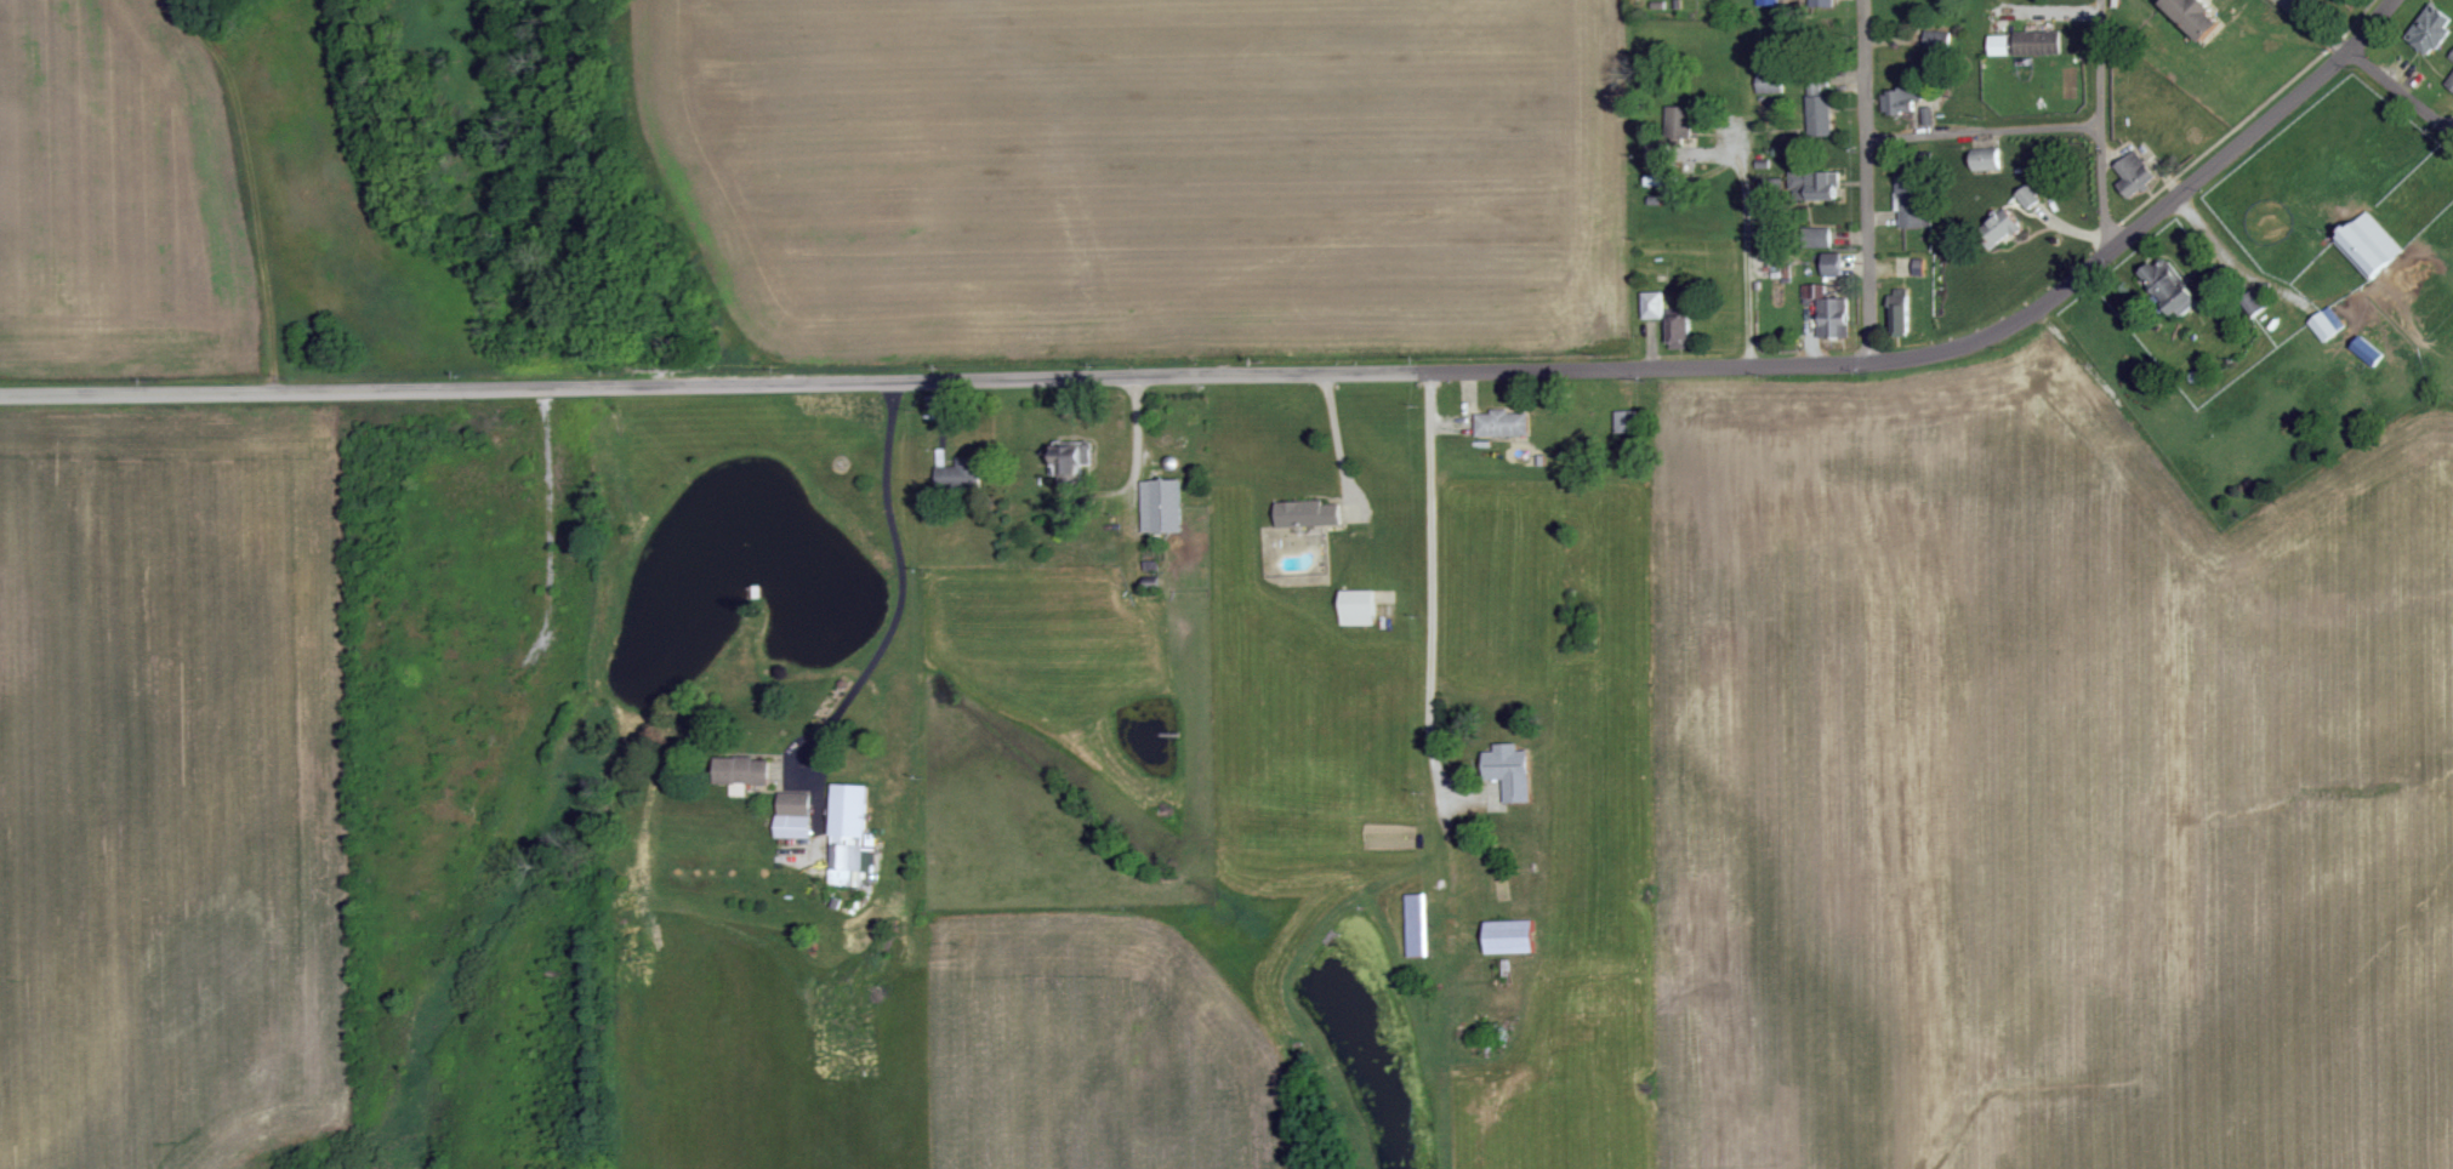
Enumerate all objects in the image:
building: (1769, 2)
building: (1823, 2)
building: (2197, 17)
building: (2432, 29)
building: (2039, 42)
building: (2000, 45)
building: (2452, 57)
road: (2366, 67)
building: (2451, 81)
building: (1771, 82)
building: (1902, 102)
building: (1821, 115)
building: (1681, 122)
road: (2098, 125)
road: (2452, 130)
road: (1982, 133)
building: (1988, 161)
building: (2136, 173)
road: (1867, 181)
building: (1816, 186)
building: (2031, 196)
building: (1912, 199)
building: (2004, 229)
building: (1820, 236)
building: (2372, 245)
road: (2118, 246)
building: (1833, 264)
building: (2170, 286)
building: (2258, 303)
building: (1655, 306)
building: (1901, 310)
building: (1831, 313)
building: (2329, 324)
building: (1680, 332)
building: (2369, 350)
road: (889, 380)
building: (1628, 422)
building: (1503, 424)
building: (1072, 462)
building: (961, 474)
building: (1162, 507)
building: (1308, 514)
road: (900, 578)
building: (1359, 609)
building: (1510, 771)
building: (742, 774)
building: (795, 816)
building: (852, 837)
building: (1418, 925)
building: (1510, 937)

